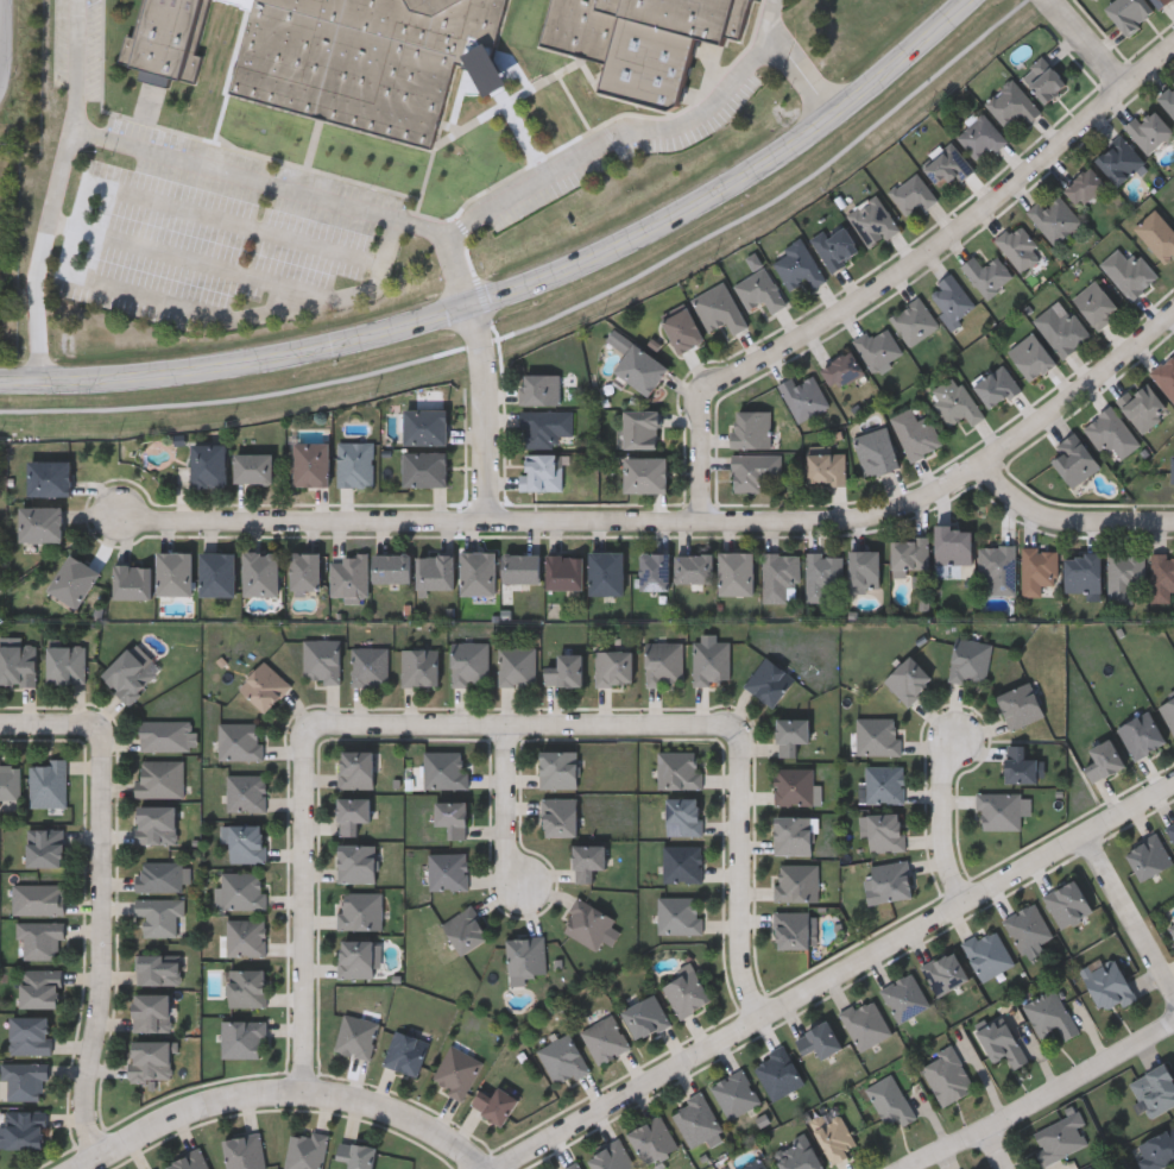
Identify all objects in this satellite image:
building: (1159, 2)
building: (1128, 12)
building: (166, 38)
building: (642, 40)
road: (13, 44)
road: (1092, 45)
building: (365, 57)
road: (803, 76)
building: (1042, 77)
road: (1, 90)
building: (1168, 96)
building: (1011, 101)
building: (1148, 127)
road: (636, 136)
building: (980, 136)
building: (1118, 158)
building: (947, 163)
building: (1084, 186)
road: (61, 190)
building: (911, 193)
road: (297, 194)
building: (1054, 216)
building: (872, 219)
building: (1159, 234)
building: (835, 244)
building: (1018, 246)
road: (196, 260)
building: (797, 264)
road: (69, 266)
building: (1128, 271)
building: (986, 274)
road: (904, 282)
road: (523, 288)
building: (759, 289)
building: (951, 298)
building: (1096, 303)
building: (718, 307)
building: (913, 320)
building: (1061, 327)
building: (682, 329)
building: (877, 345)
building: (1030, 356)
building: (639, 367)
building: (842, 369)
building: (1166, 373)
building: (996, 384)
building: (539, 388)
building: (803, 395)
building: (954, 400)
building: (1142, 404)
road: (486, 416)
building: (425, 425)
building: (544, 426)
building: (639, 428)
building: (751, 428)
building: (915, 432)
building: (1110, 432)
building: (876, 450)
building: (1074, 459)
building: (310, 461)
building: (355, 461)
building: (208, 463)
building: (252, 465)
building: (425, 466)
building: (826, 467)
building: (1173, 467)
building: (755, 470)
building: (543, 471)
building: (644, 473)
building: (48, 476)
building: (40, 521)
road: (860, 522)
road: (1073, 523)
road: (308, 526)
building: (952, 547)
building: (908, 555)
building: (998, 566)
building: (391, 567)
building: (519, 567)
building: (693, 567)
building: (1039, 568)
building: (304, 570)
building: (652, 570)
building: (863, 570)
building: (173, 571)
building: (260, 571)
building: (435, 571)
building: (478, 571)
building: (563, 571)
building: (1083, 571)
building: (217, 572)
building: (605, 572)
building: (349, 573)
building: (736, 573)
building: (821, 573)
building: (778, 574)
building: (1124, 576)
building: (1162, 577)
building: (72, 578)
building: (132, 579)
building: (322, 659)
building: (65, 661)
building: (469, 661)
building: (711, 661)
building: (970, 661)
building: (18, 662)
building: (664, 662)
building: (370, 664)
building: (419, 665)
building: (517, 665)
building: (613, 667)
building: (563, 670)
building: (127, 673)
building: (908, 678)
building: (768, 680)
building: (264, 684)
building: (1020, 705)
building: (1168, 710)
road: (49, 721)
road: (487, 723)
building: (168, 737)
building: (791, 739)
building: (878, 739)
building: (1143, 739)
building: (241, 743)
building: (1105, 765)
building: (1021, 767)
building: (558, 769)
building: (680, 769)
building: (355, 771)
building: (446, 771)
building: (160, 778)
building: (10, 781)
building: (885, 784)
building: (49, 785)
building: (794, 786)
building: (246, 793)
road: (509, 805)
road: (1129, 807)
building: (999, 811)
building: (351, 815)
building: (558, 817)
building: (683, 817)
building: (450, 818)
road: (943, 818)
building: (156, 824)
building: (1170, 830)
building: (886, 832)
building: (793, 835)
building: (245, 842)
building: (44, 848)
building: (1149, 857)
building: (587, 862)
building: (356, 863)
building: (682, 863)
building: (447, 872)
building: (163, 875)
building: (891, 881)
building: (796, 882)
building: (244, 890)
building: (39, 898)
building: (1068, 905)
building: (360, 910)
road: (1129, 910)
building: (159, 915)
building: (678, 915)
building: (586, 924)
building: (1172, 925)
building: (1028, 928)
building: (463, 931)
building: (791, 931)
building: (246, 937)
building: (40, 938)
road: (100, 943)
building: (989, 954)
building: (358, 957)
building: (525, 960)
building: (158, 968)
building: (945, 972)
building: (1106, 983)
building: (246, 987)
building: (40, 988)
building: (686, 992)
road: (791, 997)
building: (904, 997)
building: (151, 1012)
building: (1049, 1014)
building: (645, 1016)
building: (865, 1023)
building: (30, 1035)
building: (356, 1036)
building: (242, 1037)
building: (605, 1038)
building: (819, 1039)
building: (1001, 1042)
building: (405, 1052)
building: (151, 1060)
building: (563, 1060)
building: (456, 1071)
building: (778, 1074)
building: (946, 1076)
building: (25, 1080)
road: (280, 1089)
building: (1154, 1089)
building: (734, 1093)
road: (1042, 1096)
building: (890, 1100)
building: (494, 1104)
building: (696, 1119)
building: (24, 1129)
building: (1059, 1137)
building: (652, 1138)
building: (1156, 1149)
building: (305, 1150)
road: (990, 1150)
building: (245, 1151)
building: (356, 1155)
building: (796, 1155)
building: (611, 1157)
building: (189, 1161)
building: (753, 1165)
building: (576, 1167)
building: (1092, 1167)

